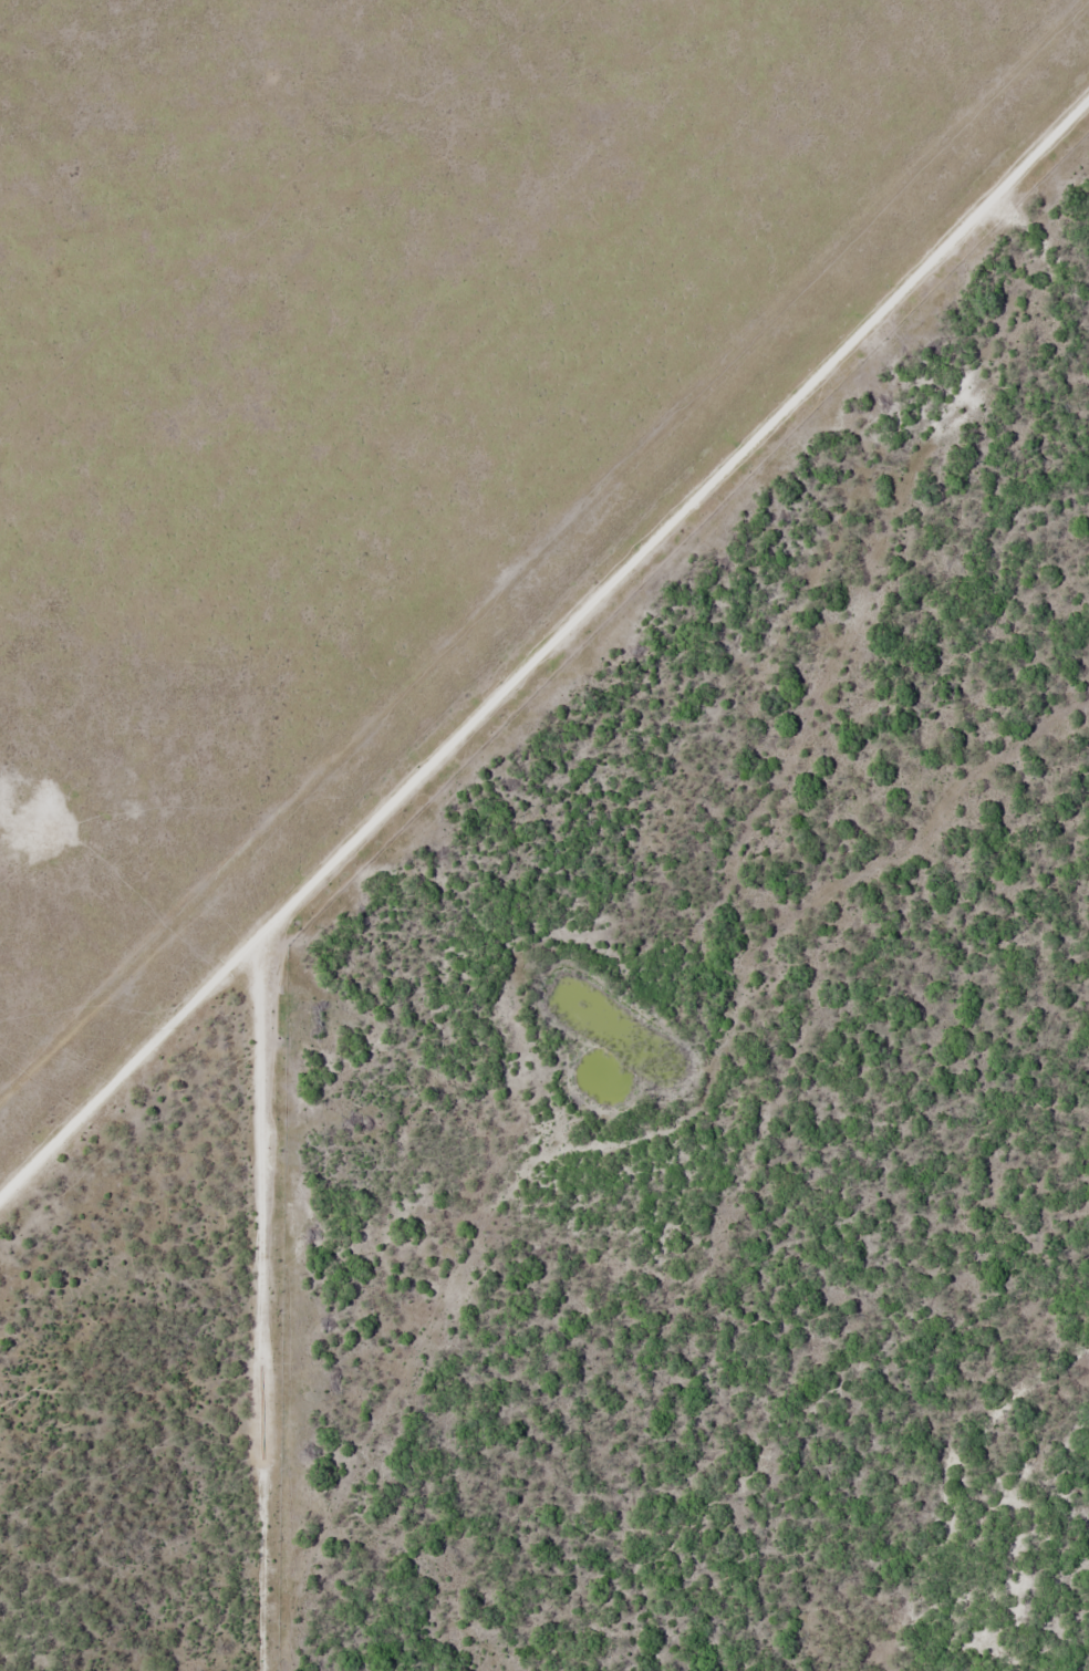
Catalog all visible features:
road: (680, 528)
road: (128, 1056)
road: (260, 1297)

